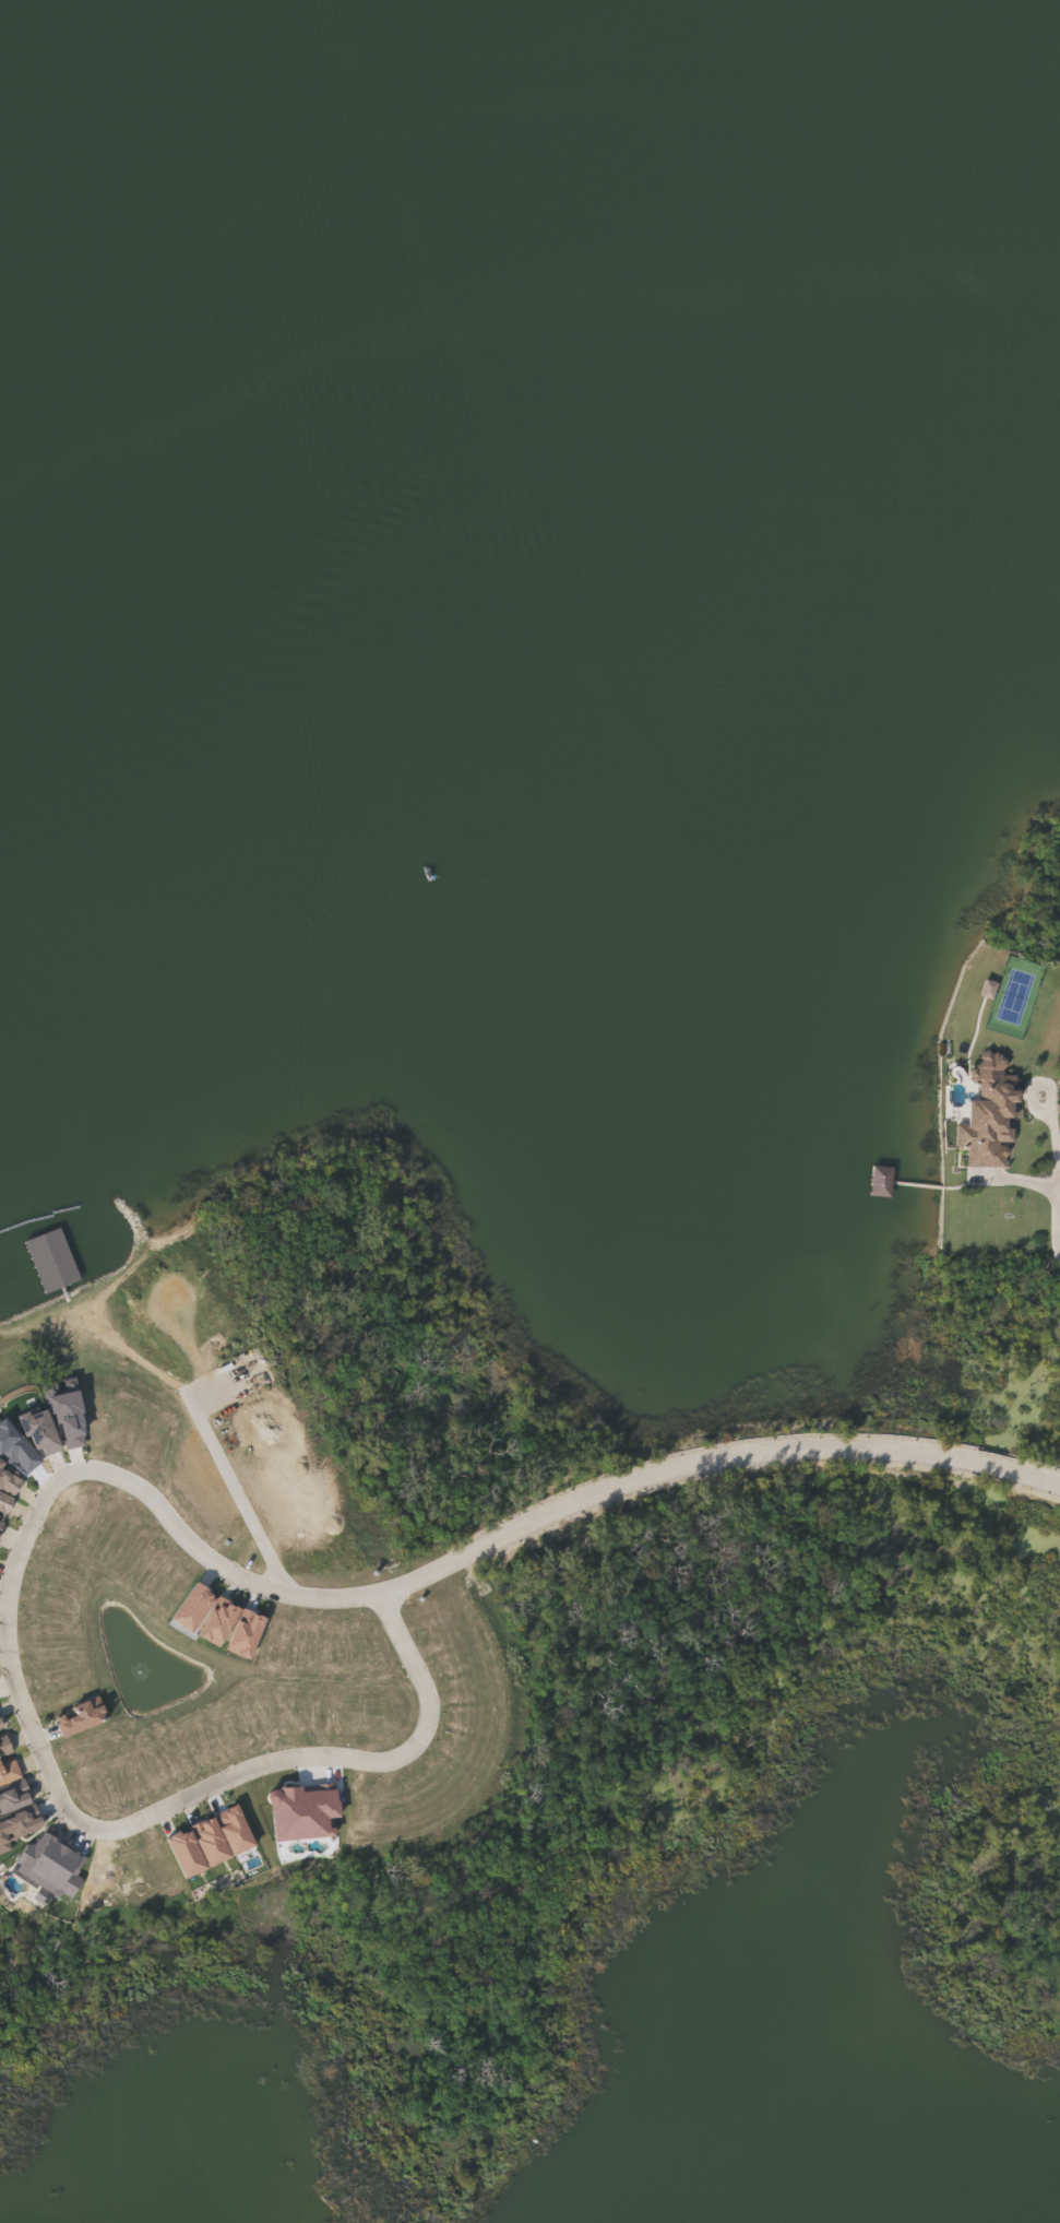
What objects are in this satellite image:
river: (130, 168)
road: (1050, 1128)
road: (713, 1461)
road: (154, 1504)
road: (221, 1779)

